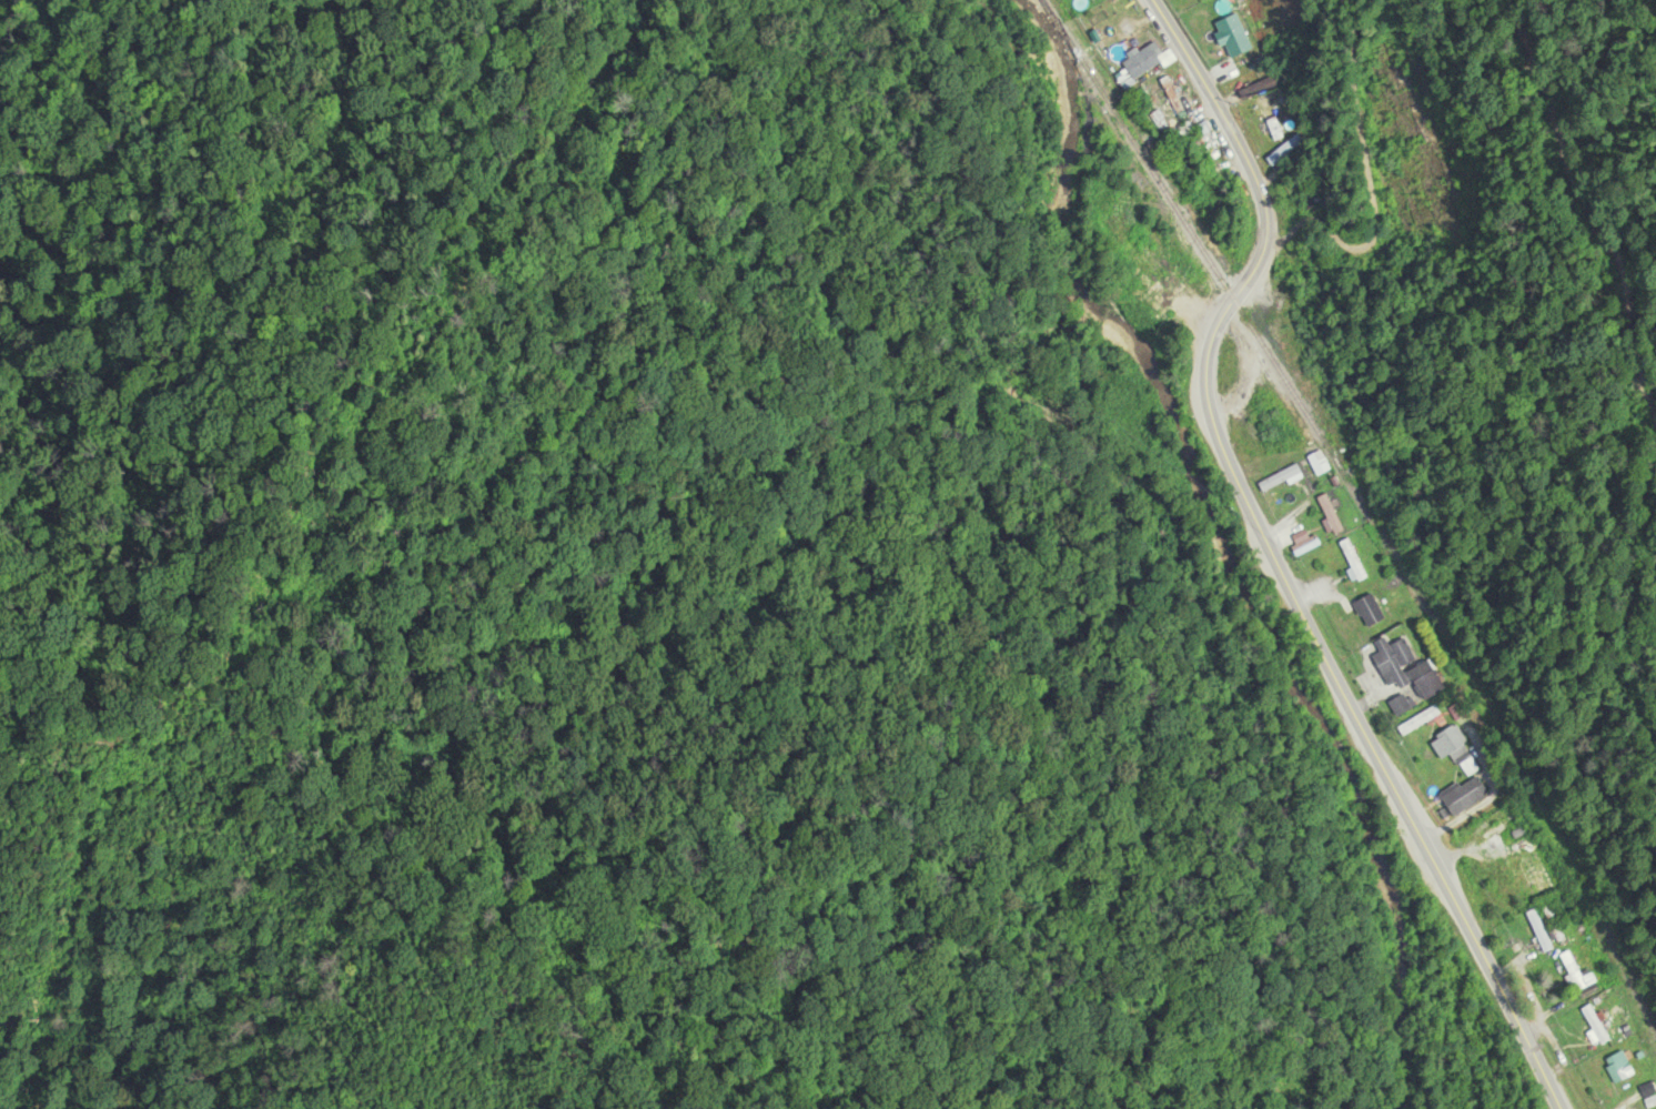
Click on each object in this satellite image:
building: (1112, 26)
building: (1142, 63)
building: (1170, 101)
building: (1263, 101)
building: (1320, 463)
building: (1280, 480)
railway: (1363, 511)
building: (1331, 514)
building: (1306, 545)
road: (1271, 556)
building: (1354, 559)
building: (1370, 611)
building: (1407, 668)
building: (1401, 705)
building: (1448, 742)
building: (1465, 795)
building: (1537, 874)
building: (1577, 972)
building: (1596, 1025)
building: (1618, 1067)

